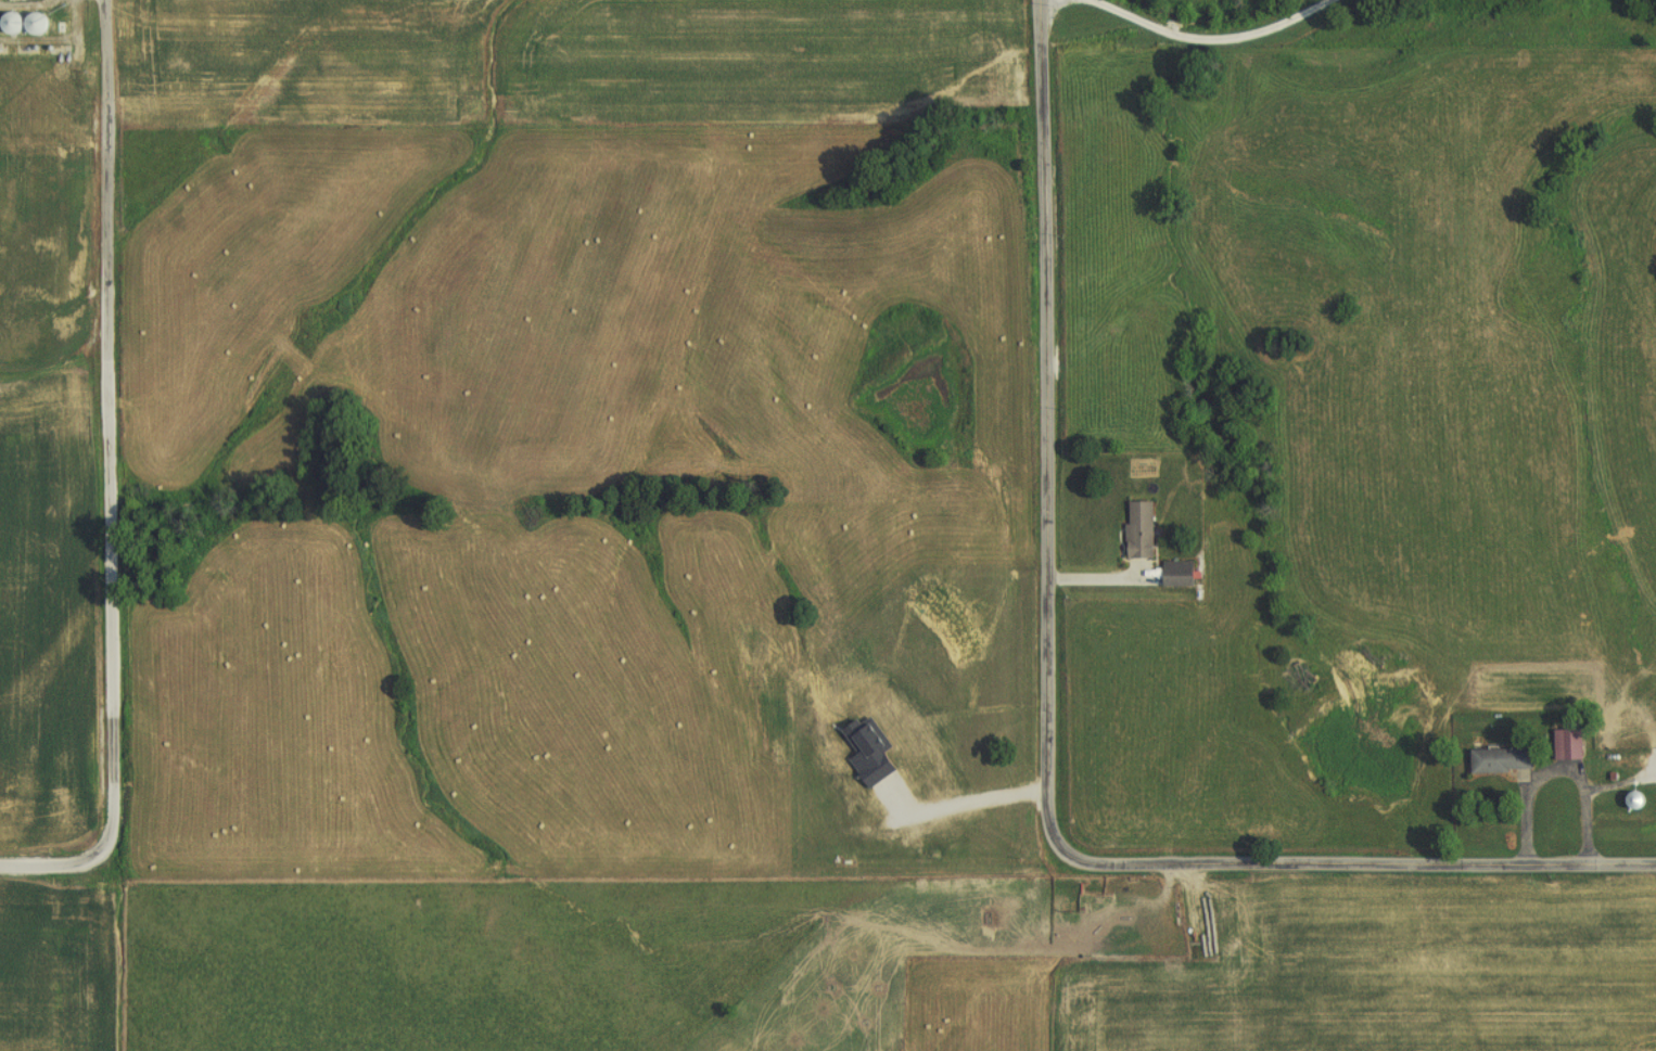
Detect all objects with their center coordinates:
building: (38, 25)
building: (12, 26)
road: (1209, 44)
building: (60, 99)
building: (21, 103)
building: (28, 201)
building: (29, 271)
road: (111, 476)
building: (1141, 531)
building: (1180, 576)
road: (1048, 722)
building: (1569, 747)
building: (1502, 764)
road: (1558, 766)
road: (1620, 780)
building: (1638, 803)

